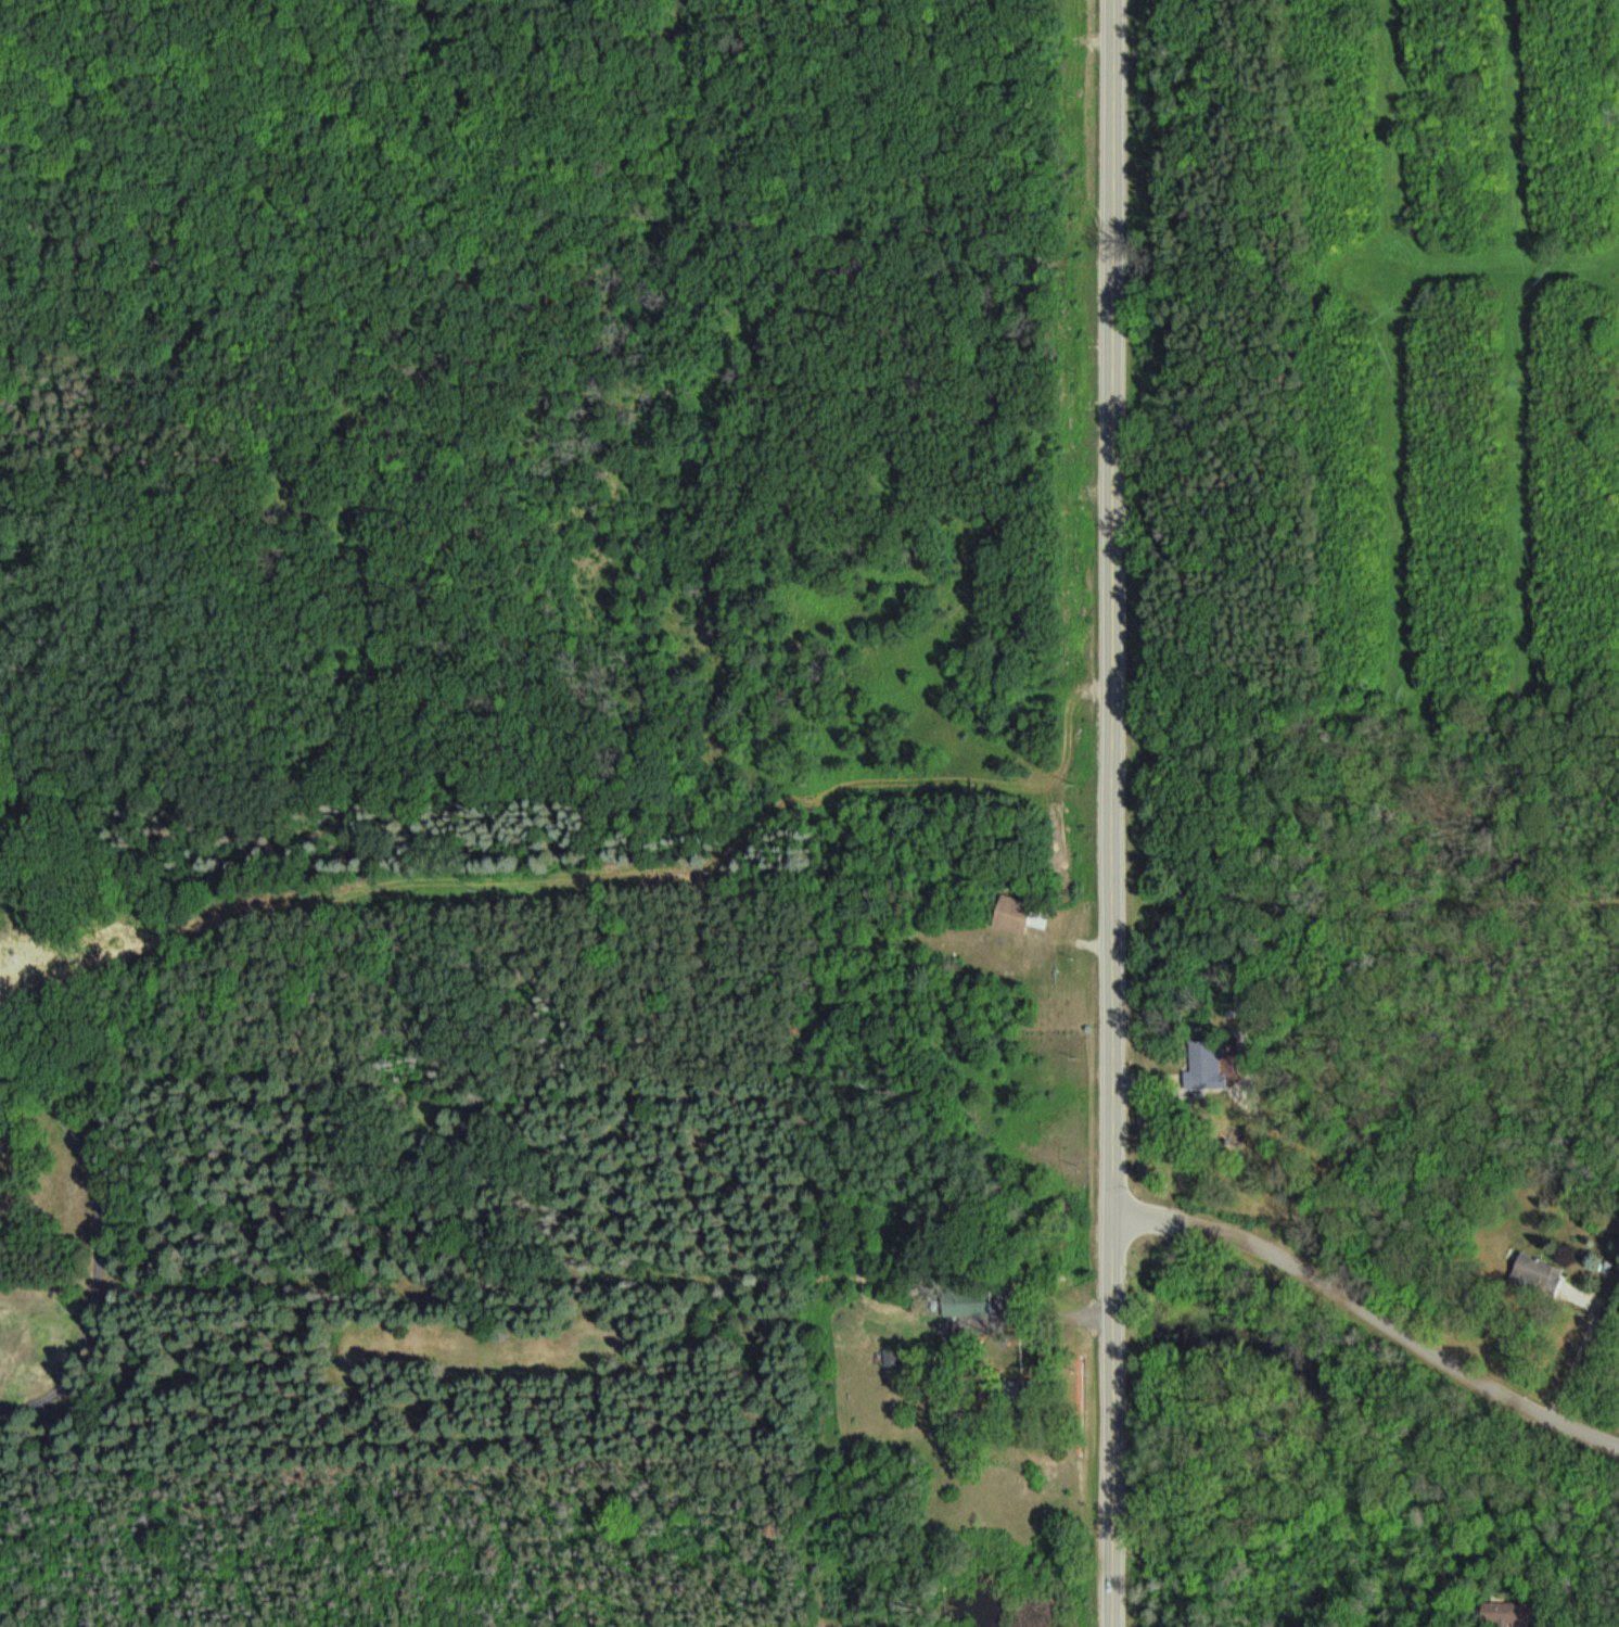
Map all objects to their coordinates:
road: (327, 196)
road: (1117, 813)
building: (1018, 912)
building: (1540, 1274)
road: (1374, 1307)
road: (565, 1308)

